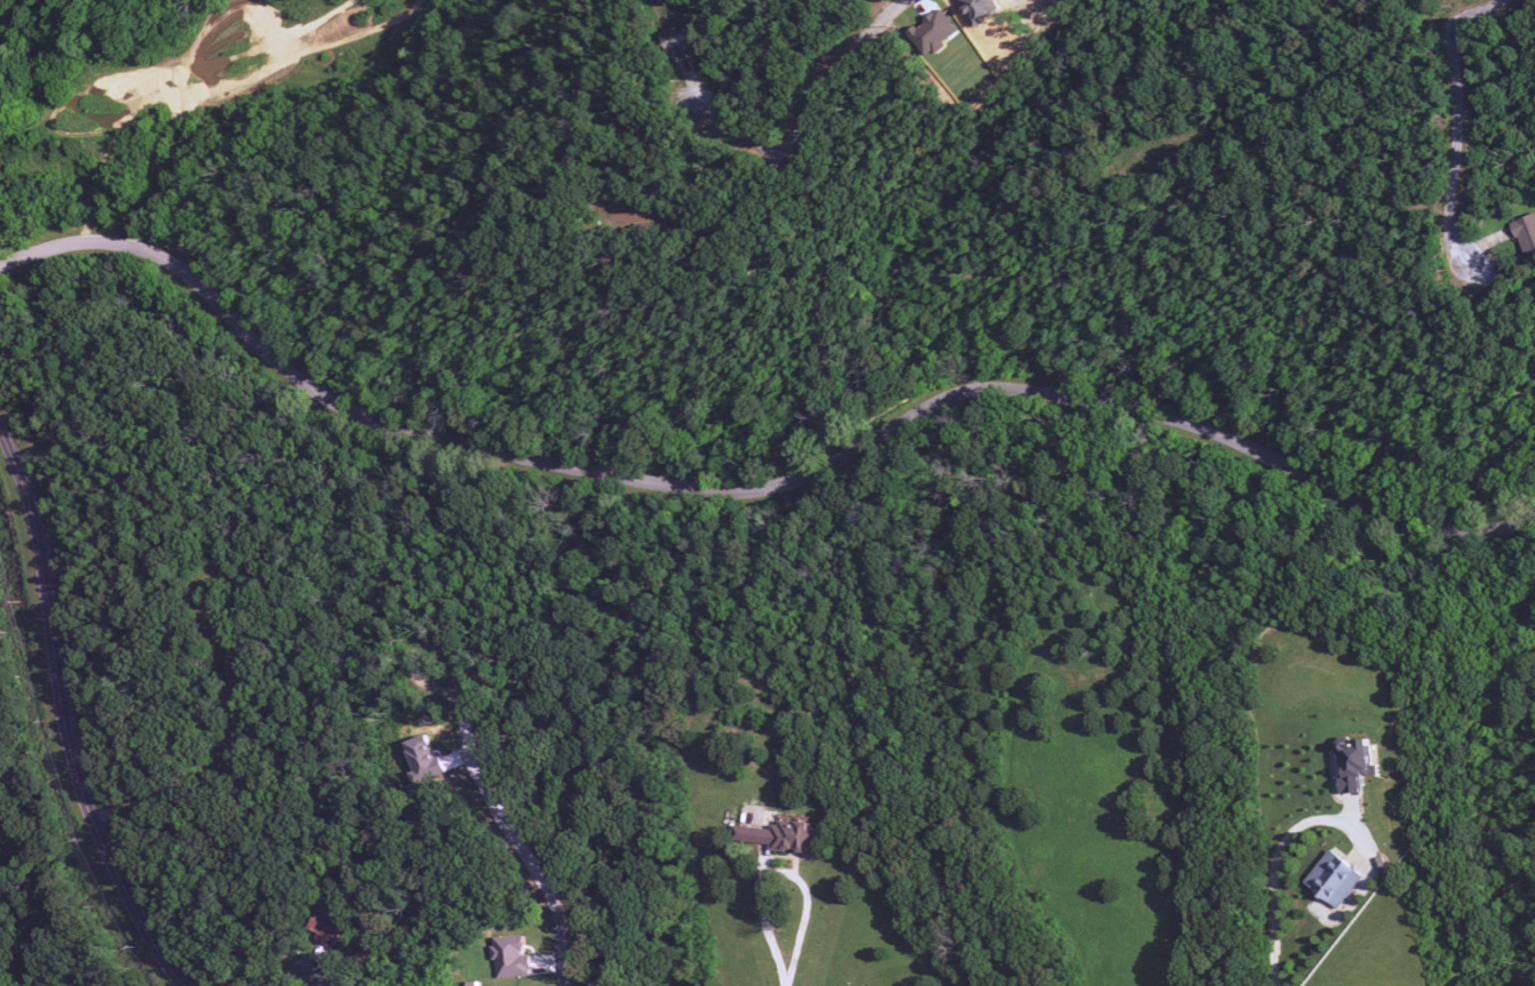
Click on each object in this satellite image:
road: (897, 5)
road: (81, 22)
building: (682, 37)
road: (1324, 87)
road: (745, 134)
road: (781, 169)
road: (1427, 204)
building: (1526, 234)
road: (1462, 239)
road: (22, 427)
road: (756, 491)
road: (389, 544)
road: (63, 715)
road: (228, 748)
building: (421, 761)
building: (1355, 767)
road: (510, 811)
building: (778, 835)
road: (1271, 867)
road: (778, 872)
building: (1332, 878)
building: (324, 928)
building: (510, 957)
road: (303, 973)
road: (783, 985)

